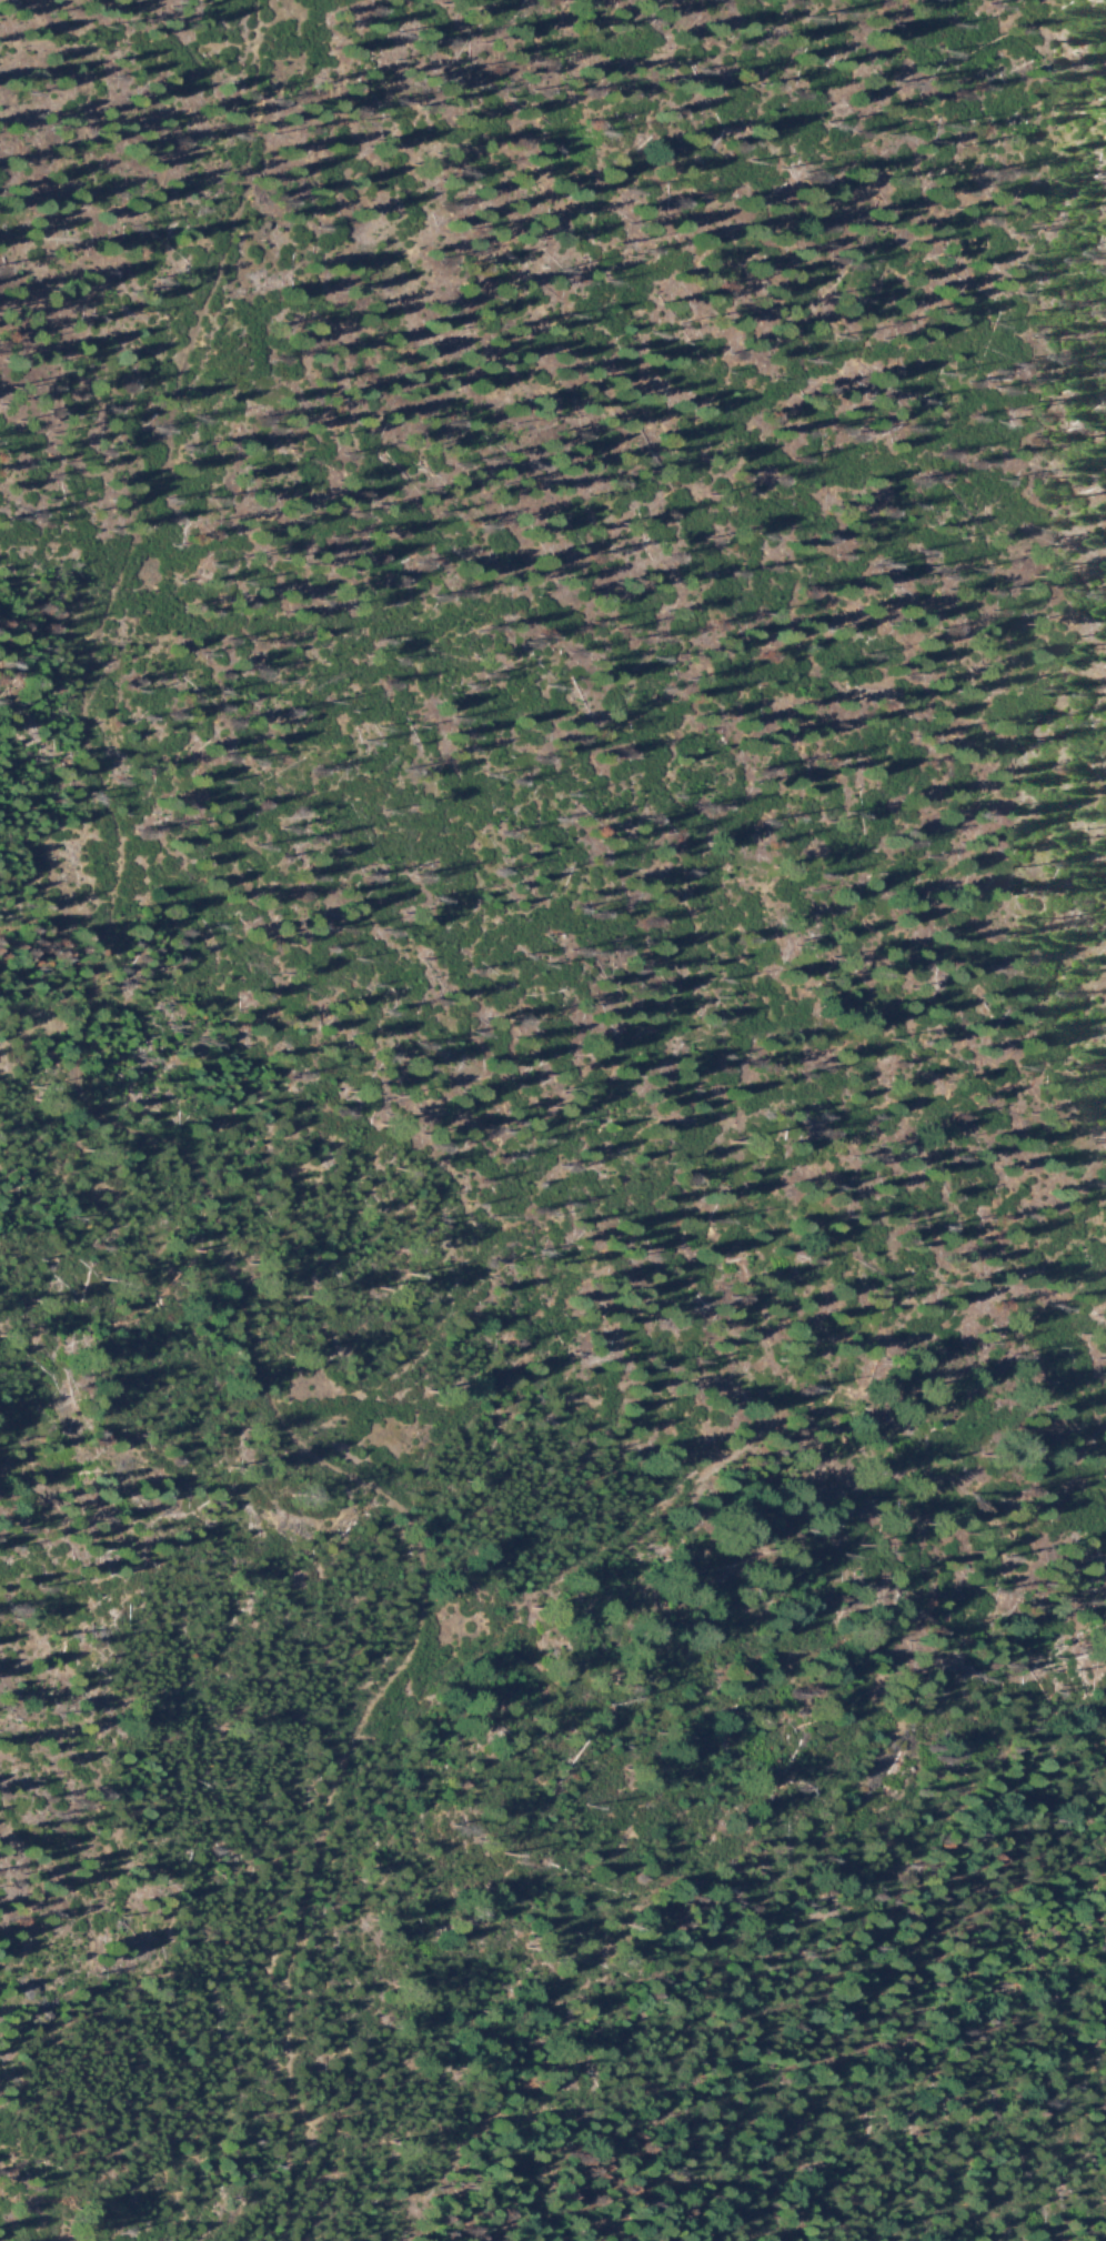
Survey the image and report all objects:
road: (148, 1155)

